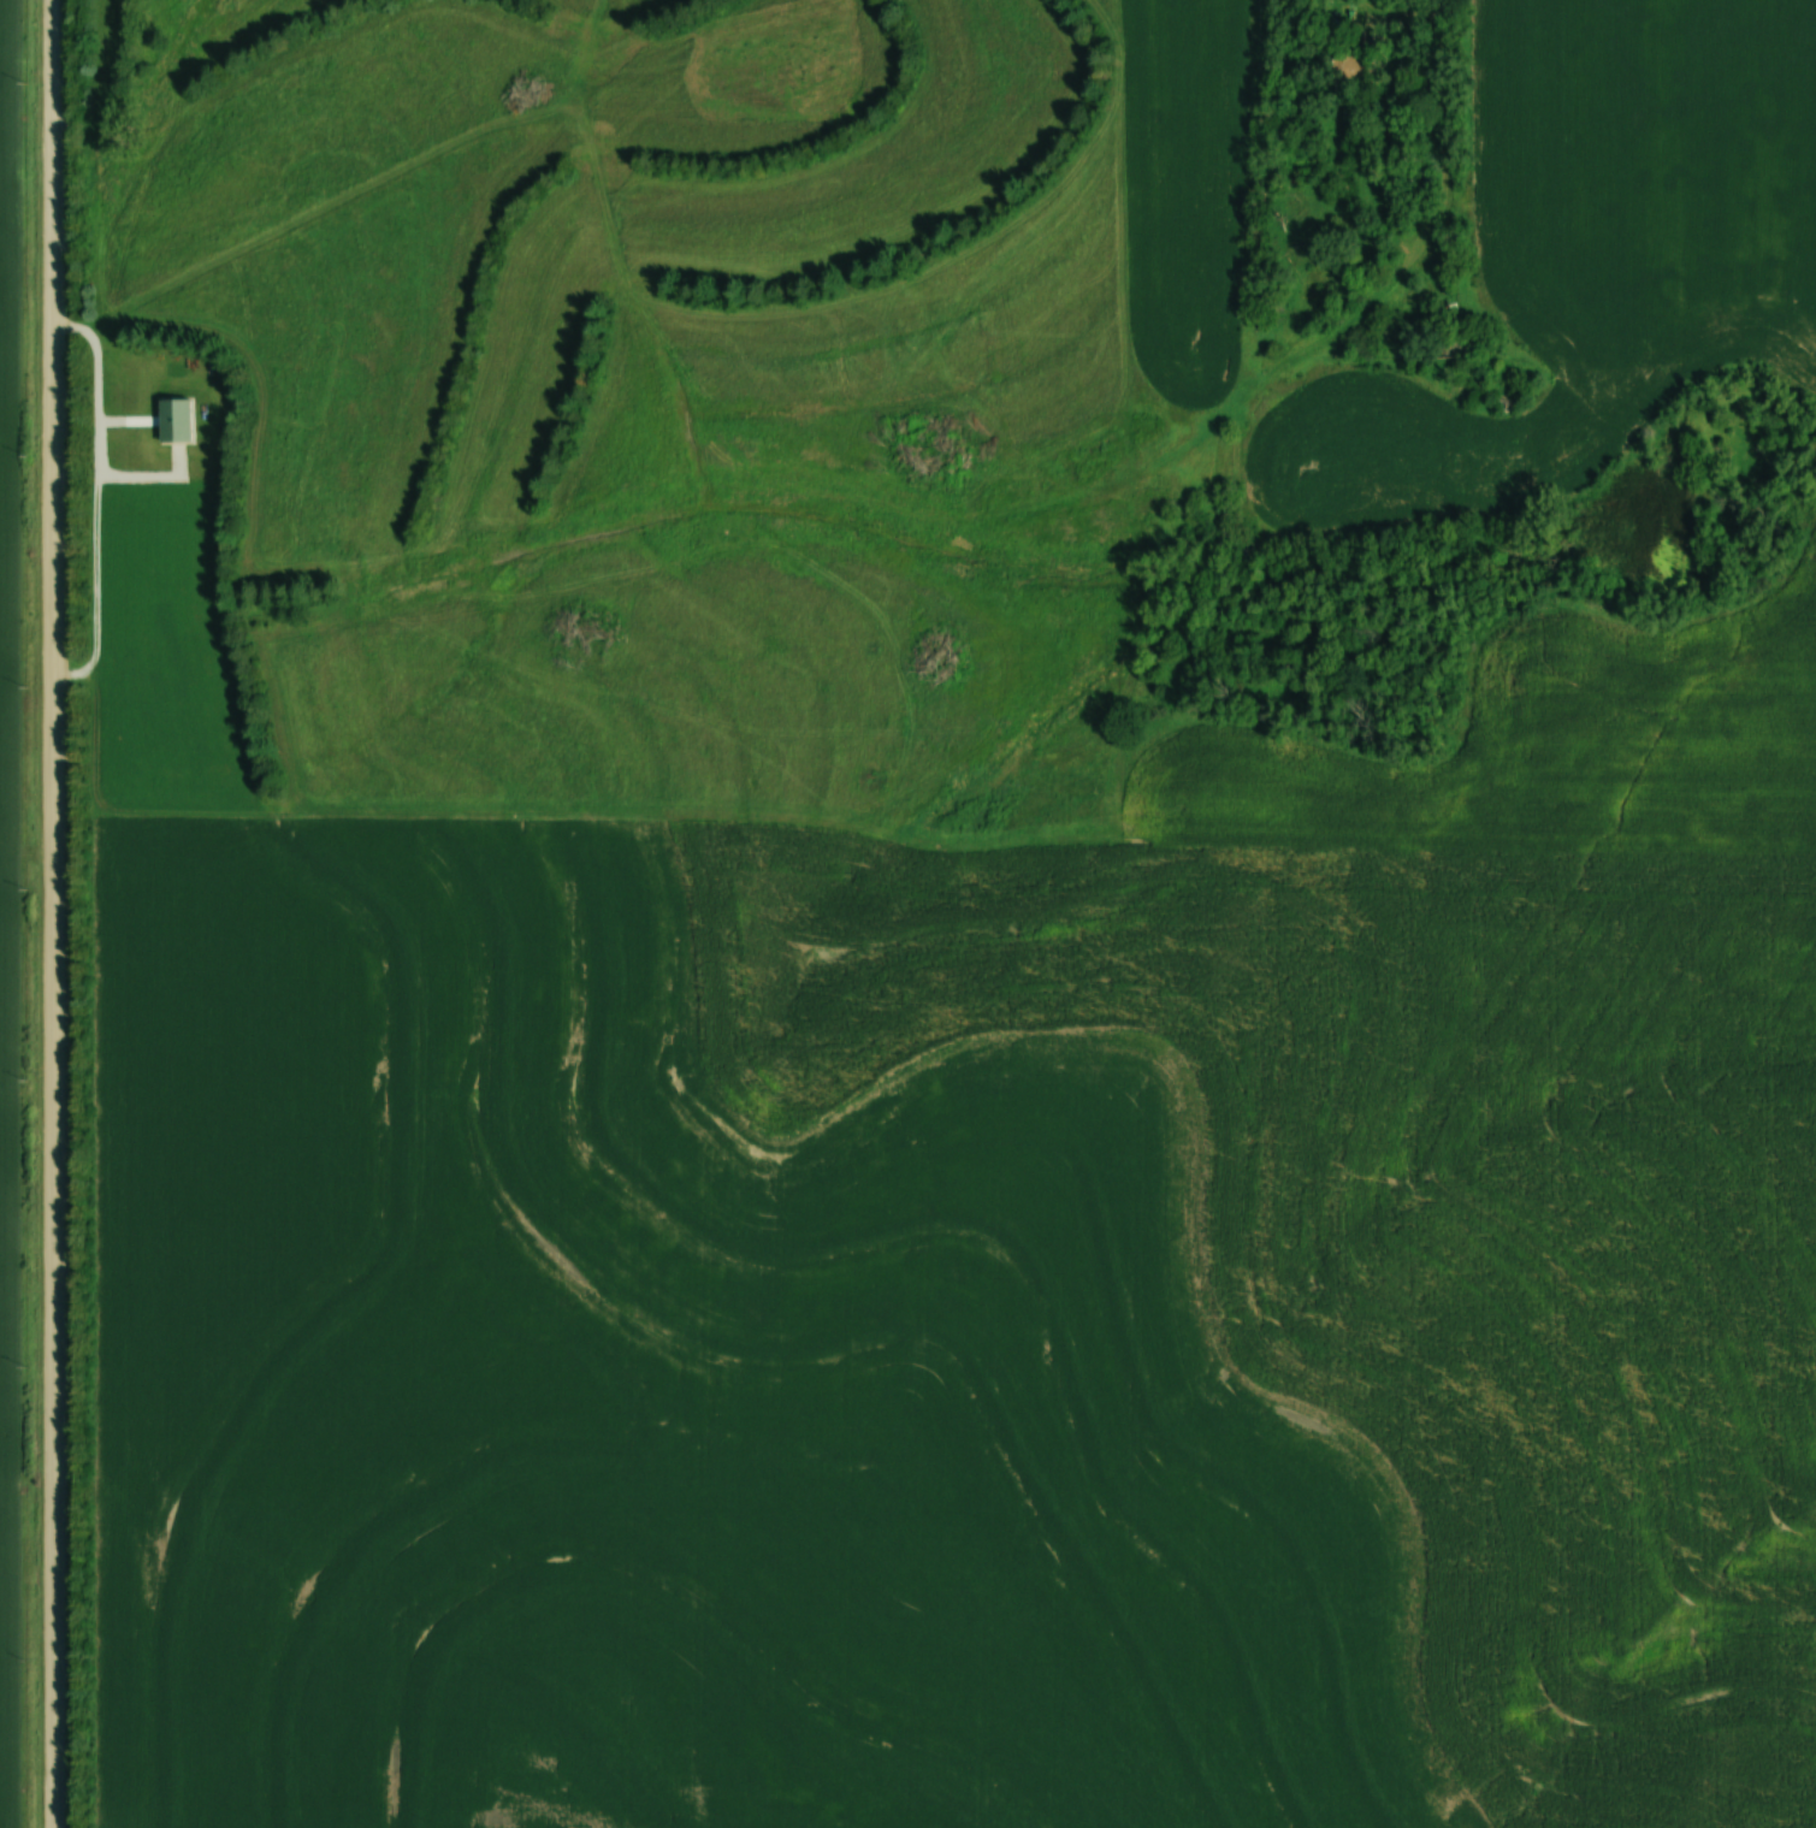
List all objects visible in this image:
road: (1406, 19)
building: (1351, 67)
building: (173, 420)
road: (54, 913)

